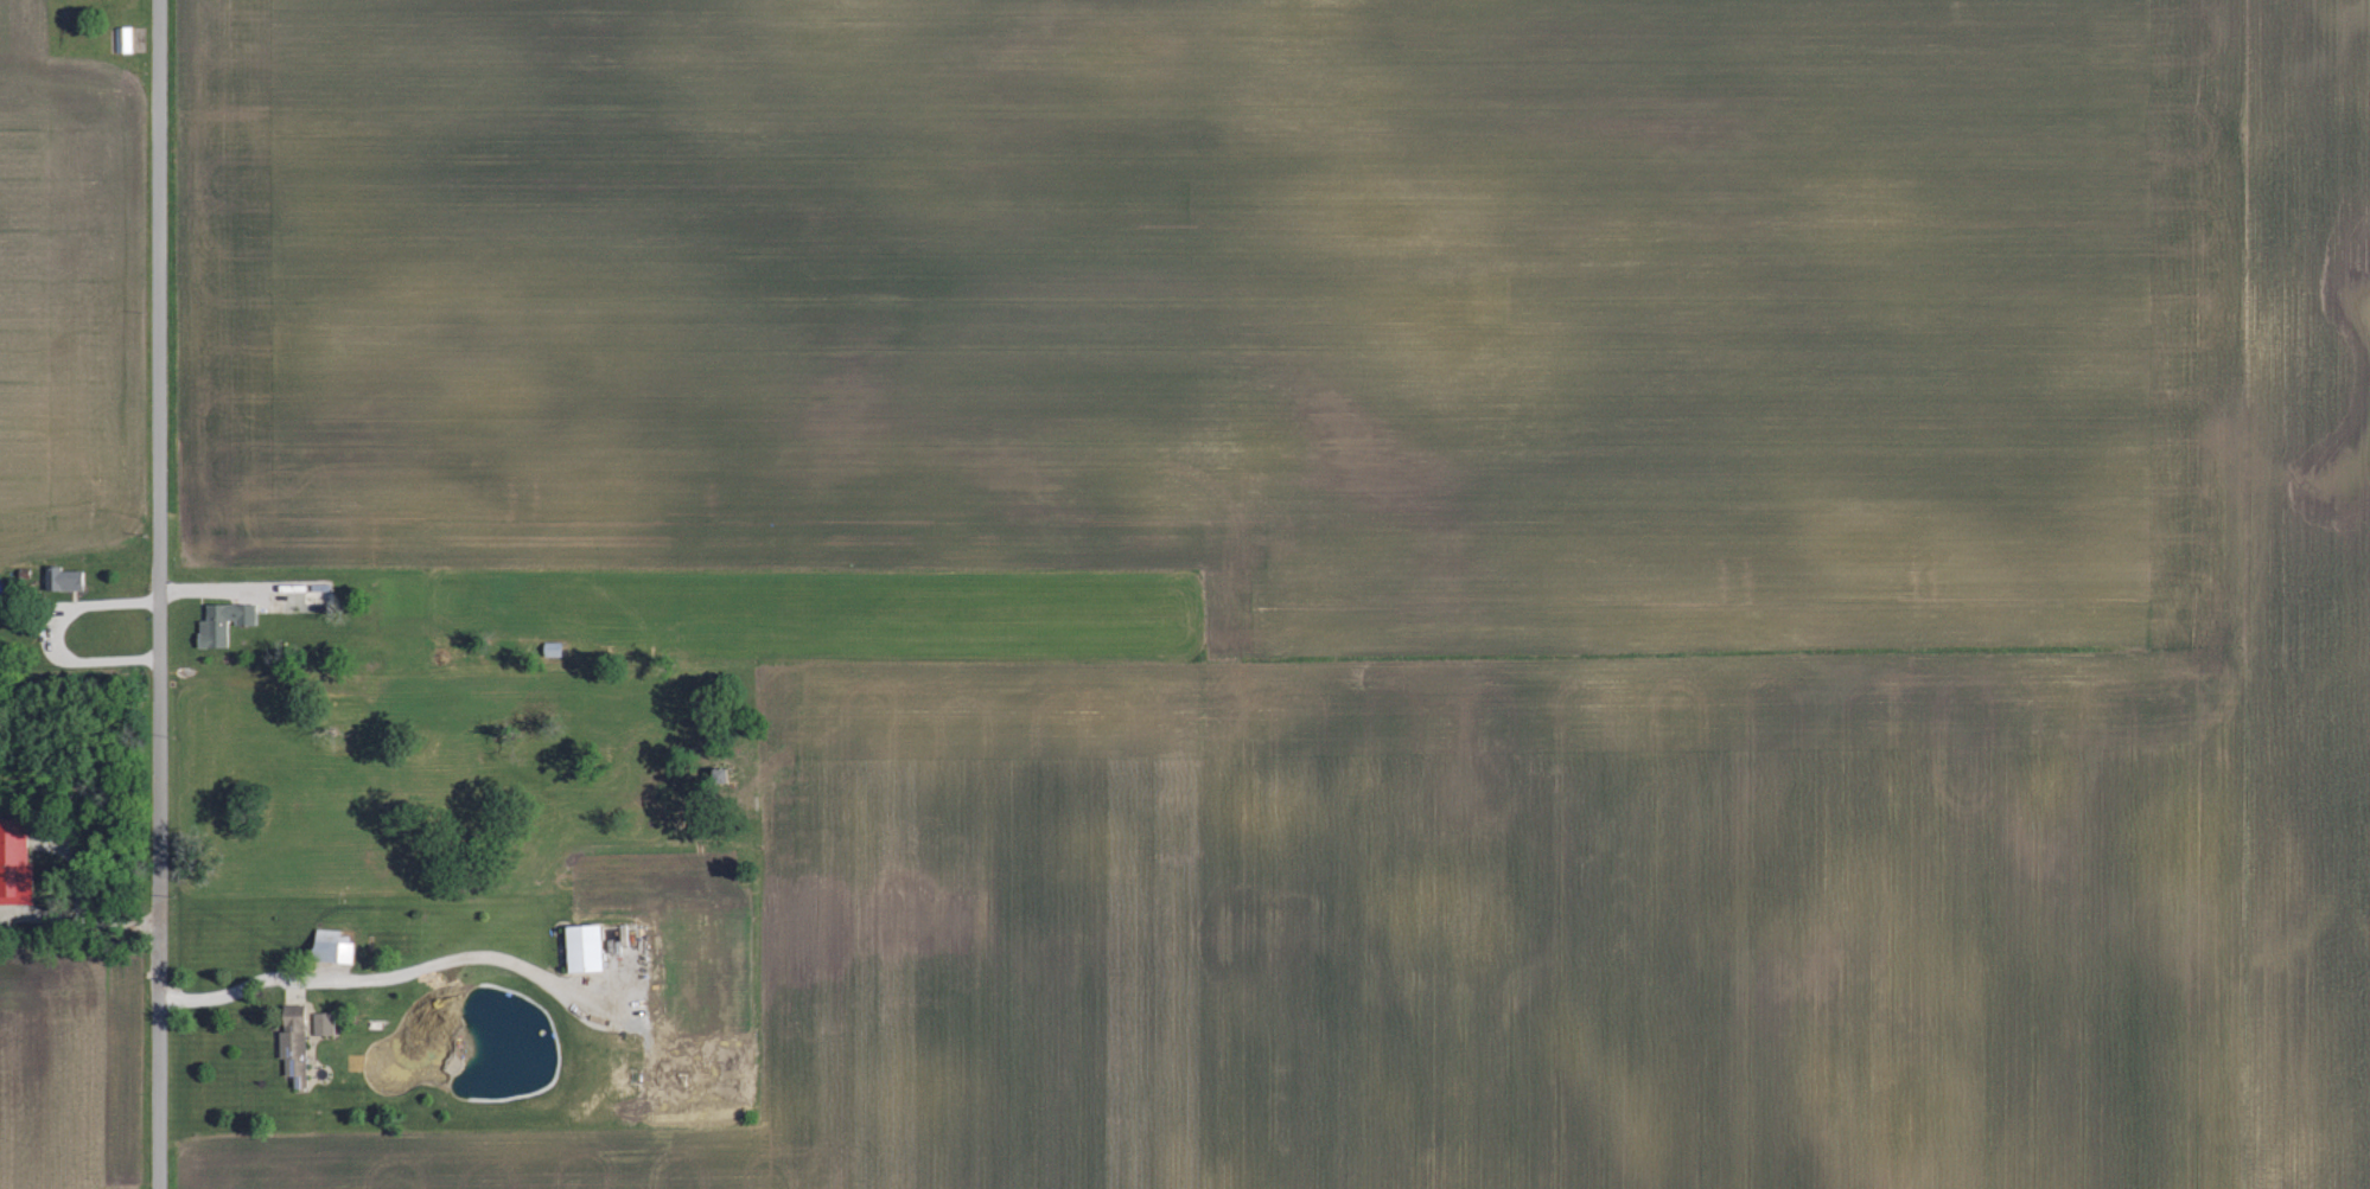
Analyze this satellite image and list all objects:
building: (123, 39)
building: (64, 577)
road: (160, 594)
building: (223, 621)
building: (14, 861)
building: (335, 944)
building: (584, 947)
building: (323, 1022)

